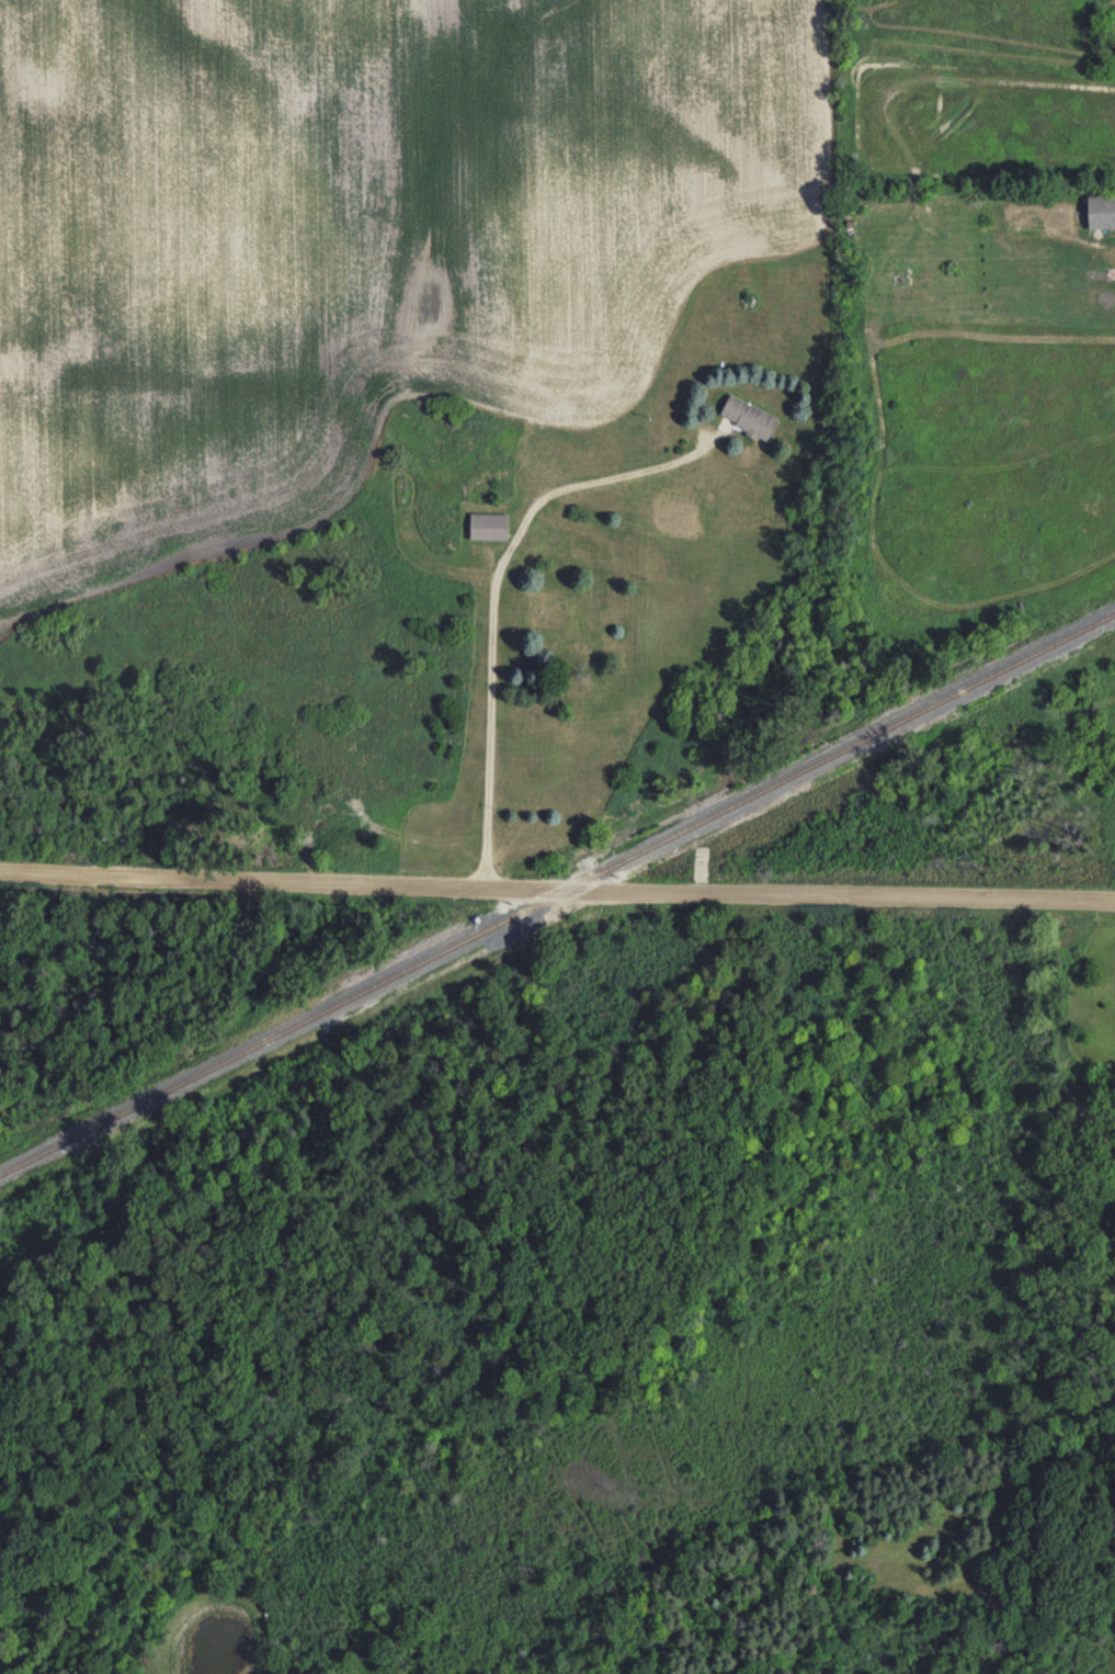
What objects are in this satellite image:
building: (1101, 211)
building: (748, 417)
crop: (560, 444)
building: (488, 525)
road: (492, 602)
railway: (837, 755)
road: (557, 893)
railway: (278, 1033)

